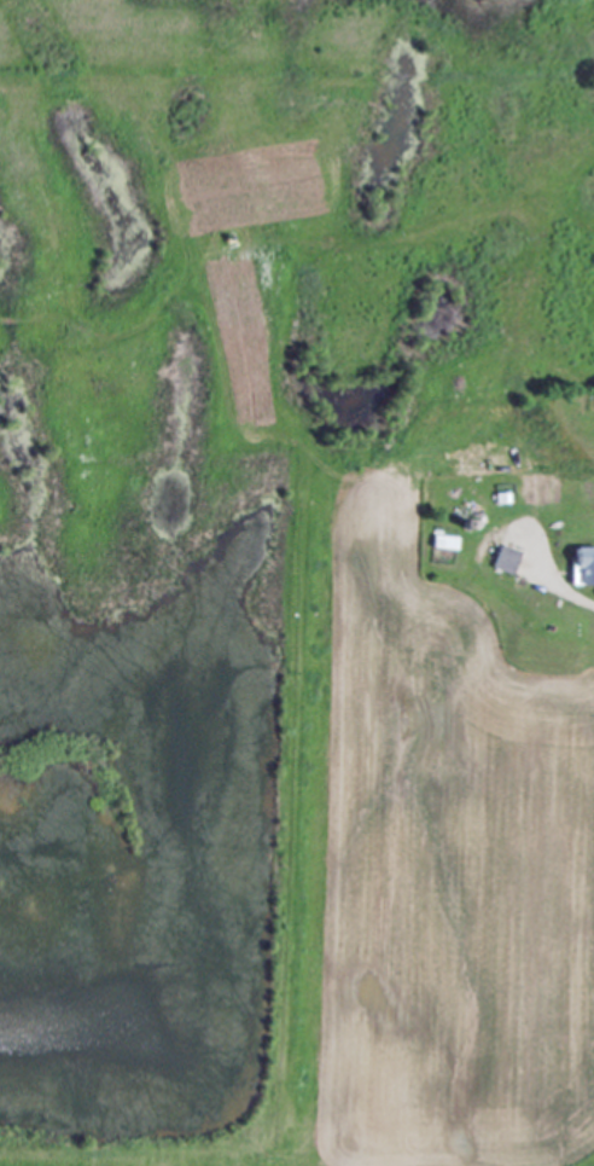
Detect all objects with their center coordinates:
building: (500, 561)
road: (559, 587)

